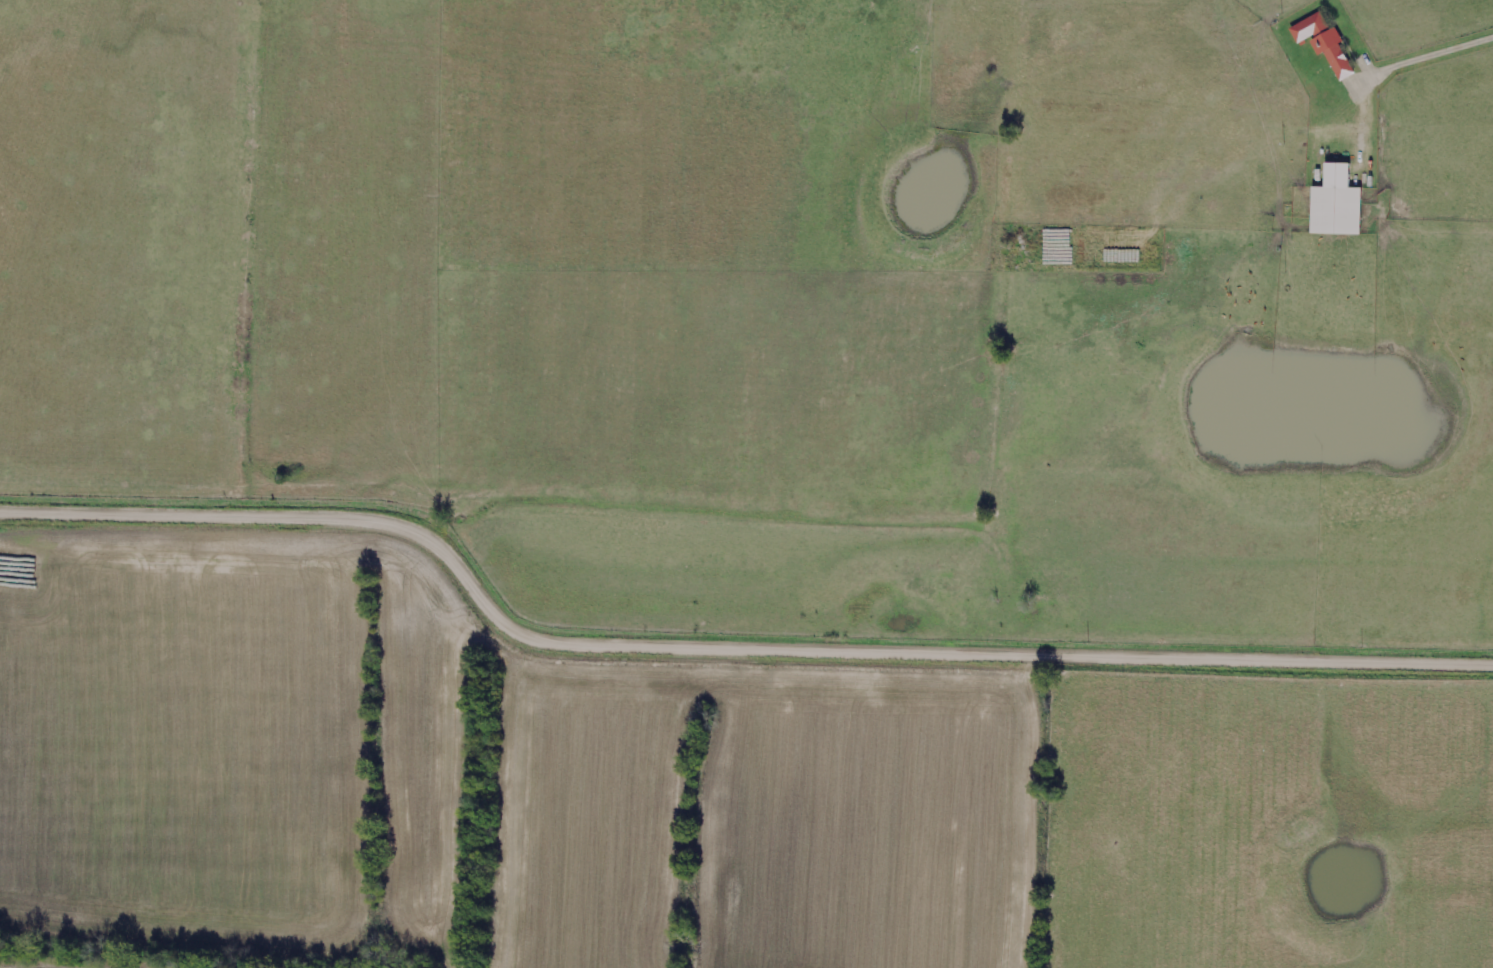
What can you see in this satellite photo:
building: (1325, 43)
road: (1425, 51)
building: (1338, 204)
road: (722, 643)

